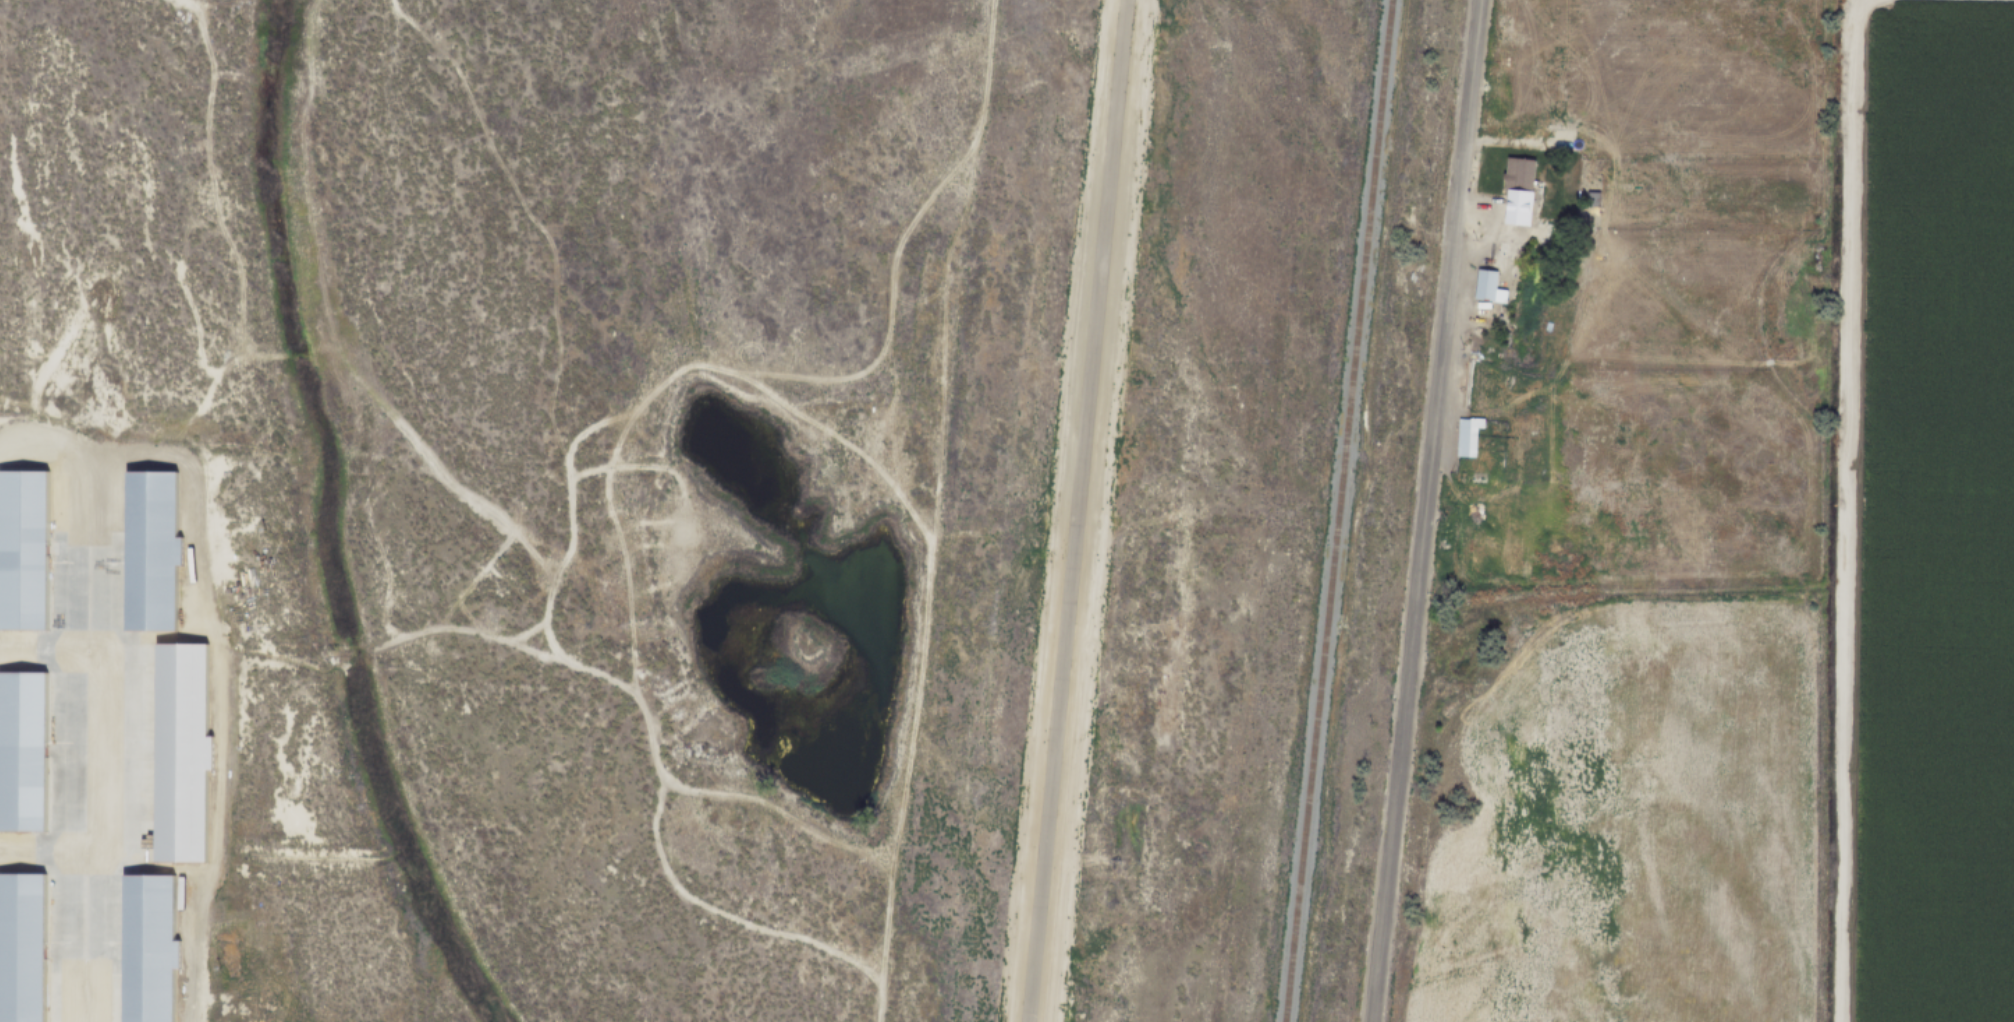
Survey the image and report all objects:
road: (218, 4)
building: (1517, 174)
road: (1552, 191)
road: (213, 197)
building: (1591, 198)
road: (1497, 200)
road: (898, 247)
building: (1484, 285)
building: (1488, 325)
road: (941, 334)
road: (1503, 403)
road: (639, 405)
building: (1466, 436)
road: (644, 466)
road: (905, 479)
road: (455, 491)
road: (1840, 508)
road: (1422, 510)
airport runway: (1077, 511)
railway: (1337, 511)
building: (146, 547)
road: (621, 547)
building: (20, 548)
road: (401, 636)
road: (220, 645)
road: (537, 654)
road: (41, 656)
road: (82, 735)
building: (19, 749)
building: (179, 751)
road: (779, 812)
road: (109, 858)
building: (20, 947)
building: (141, 947)
road: (876, 1012)

